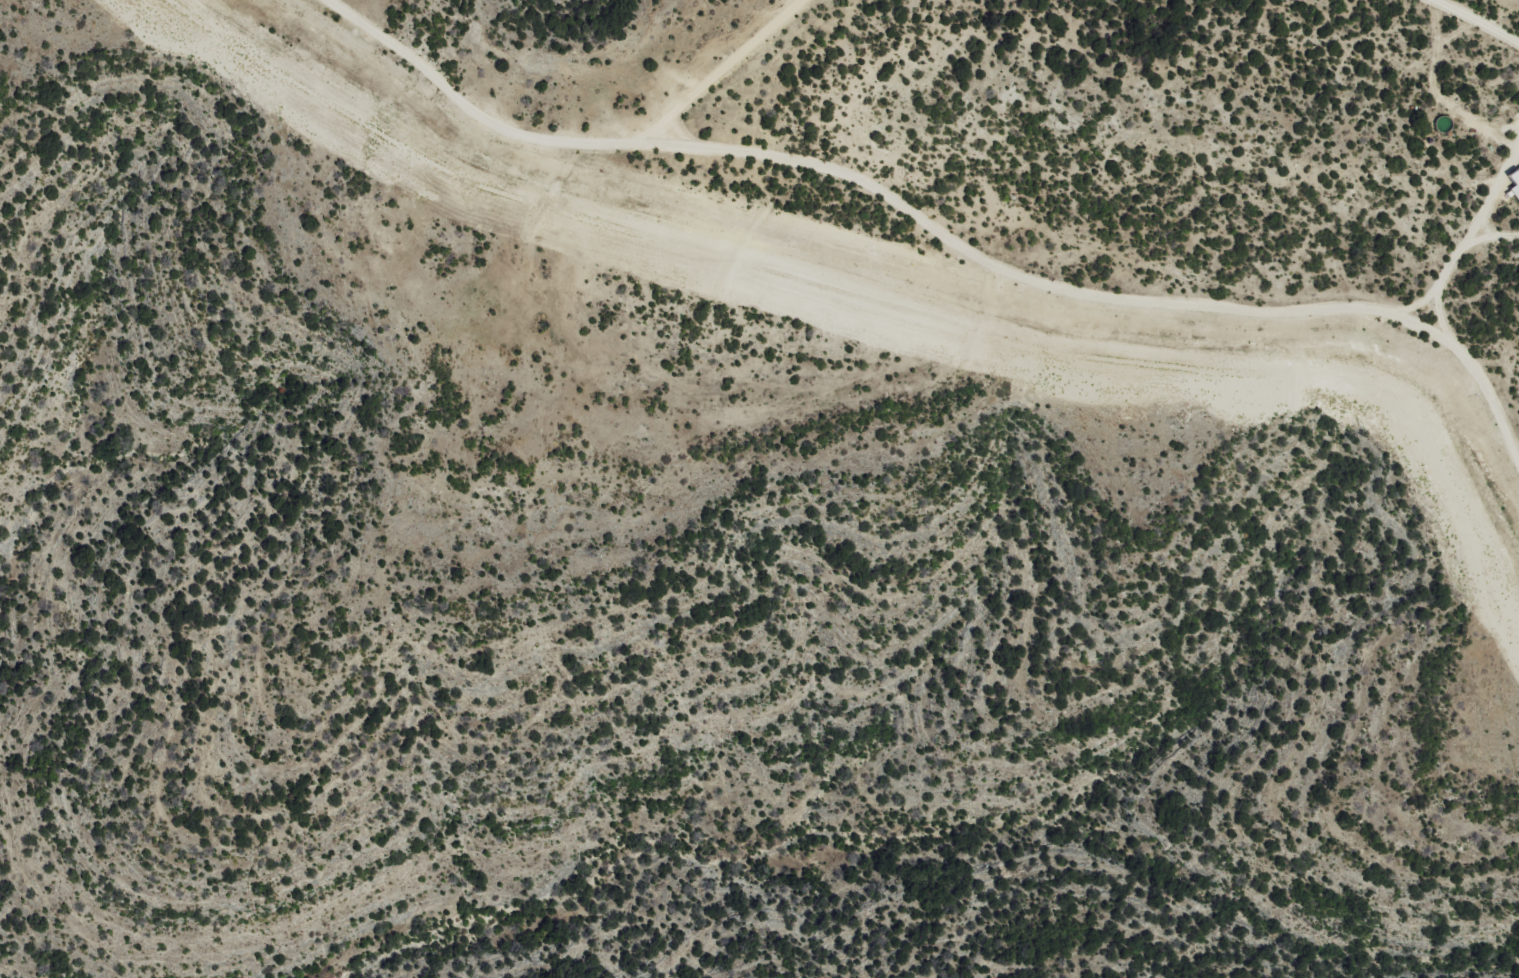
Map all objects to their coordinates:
building: (1514, 184)
road: (932, 223)

